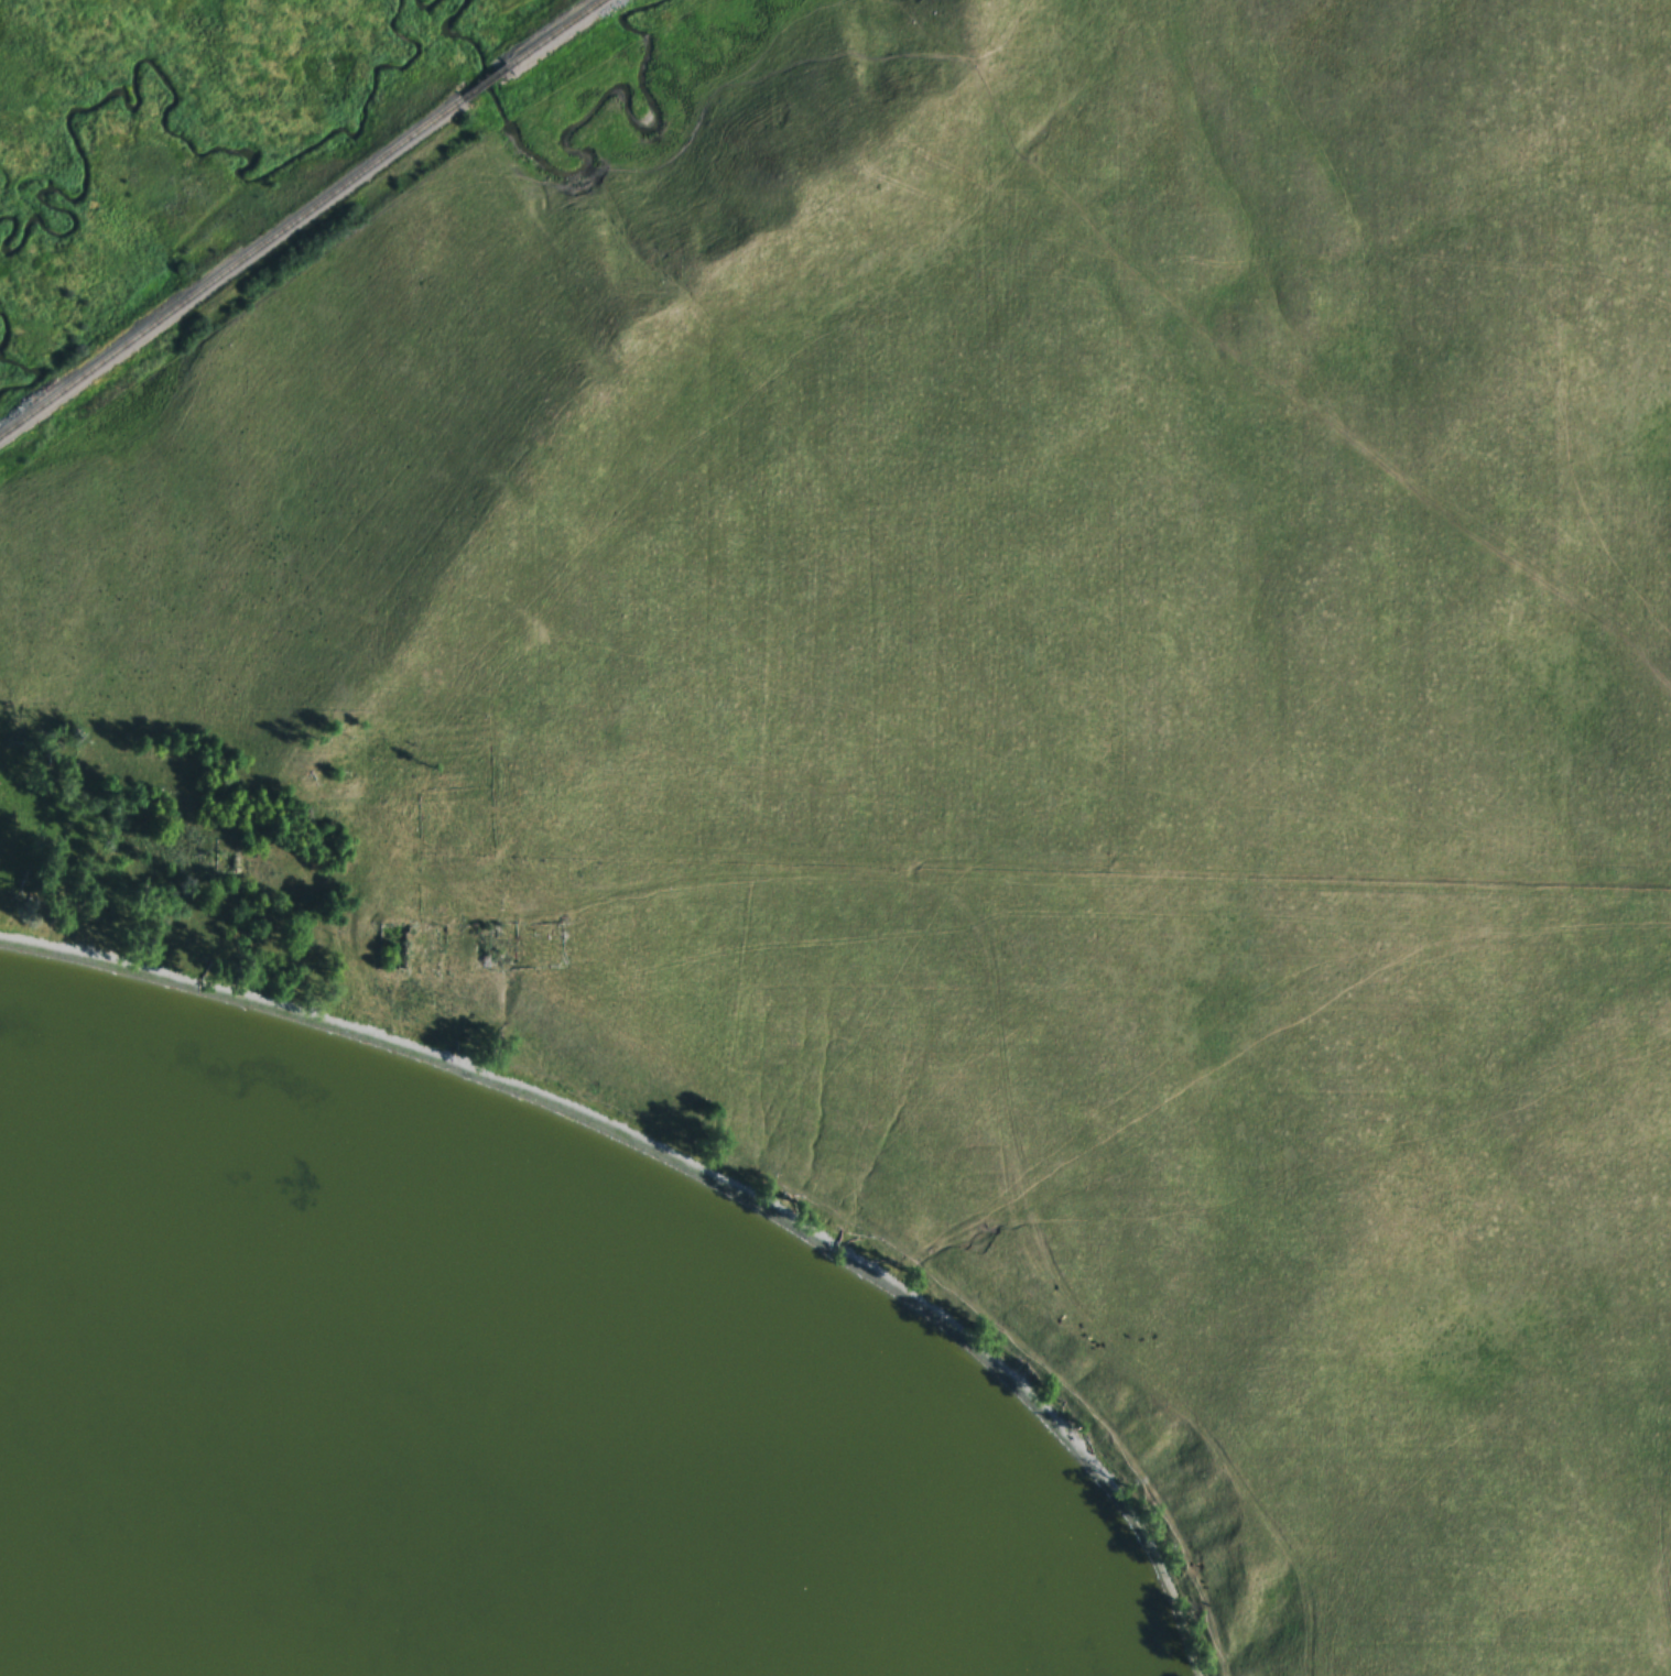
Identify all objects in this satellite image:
river: (782, 0)
river: (361, 84)
railway: (273, 200)
river: (1, 367)

